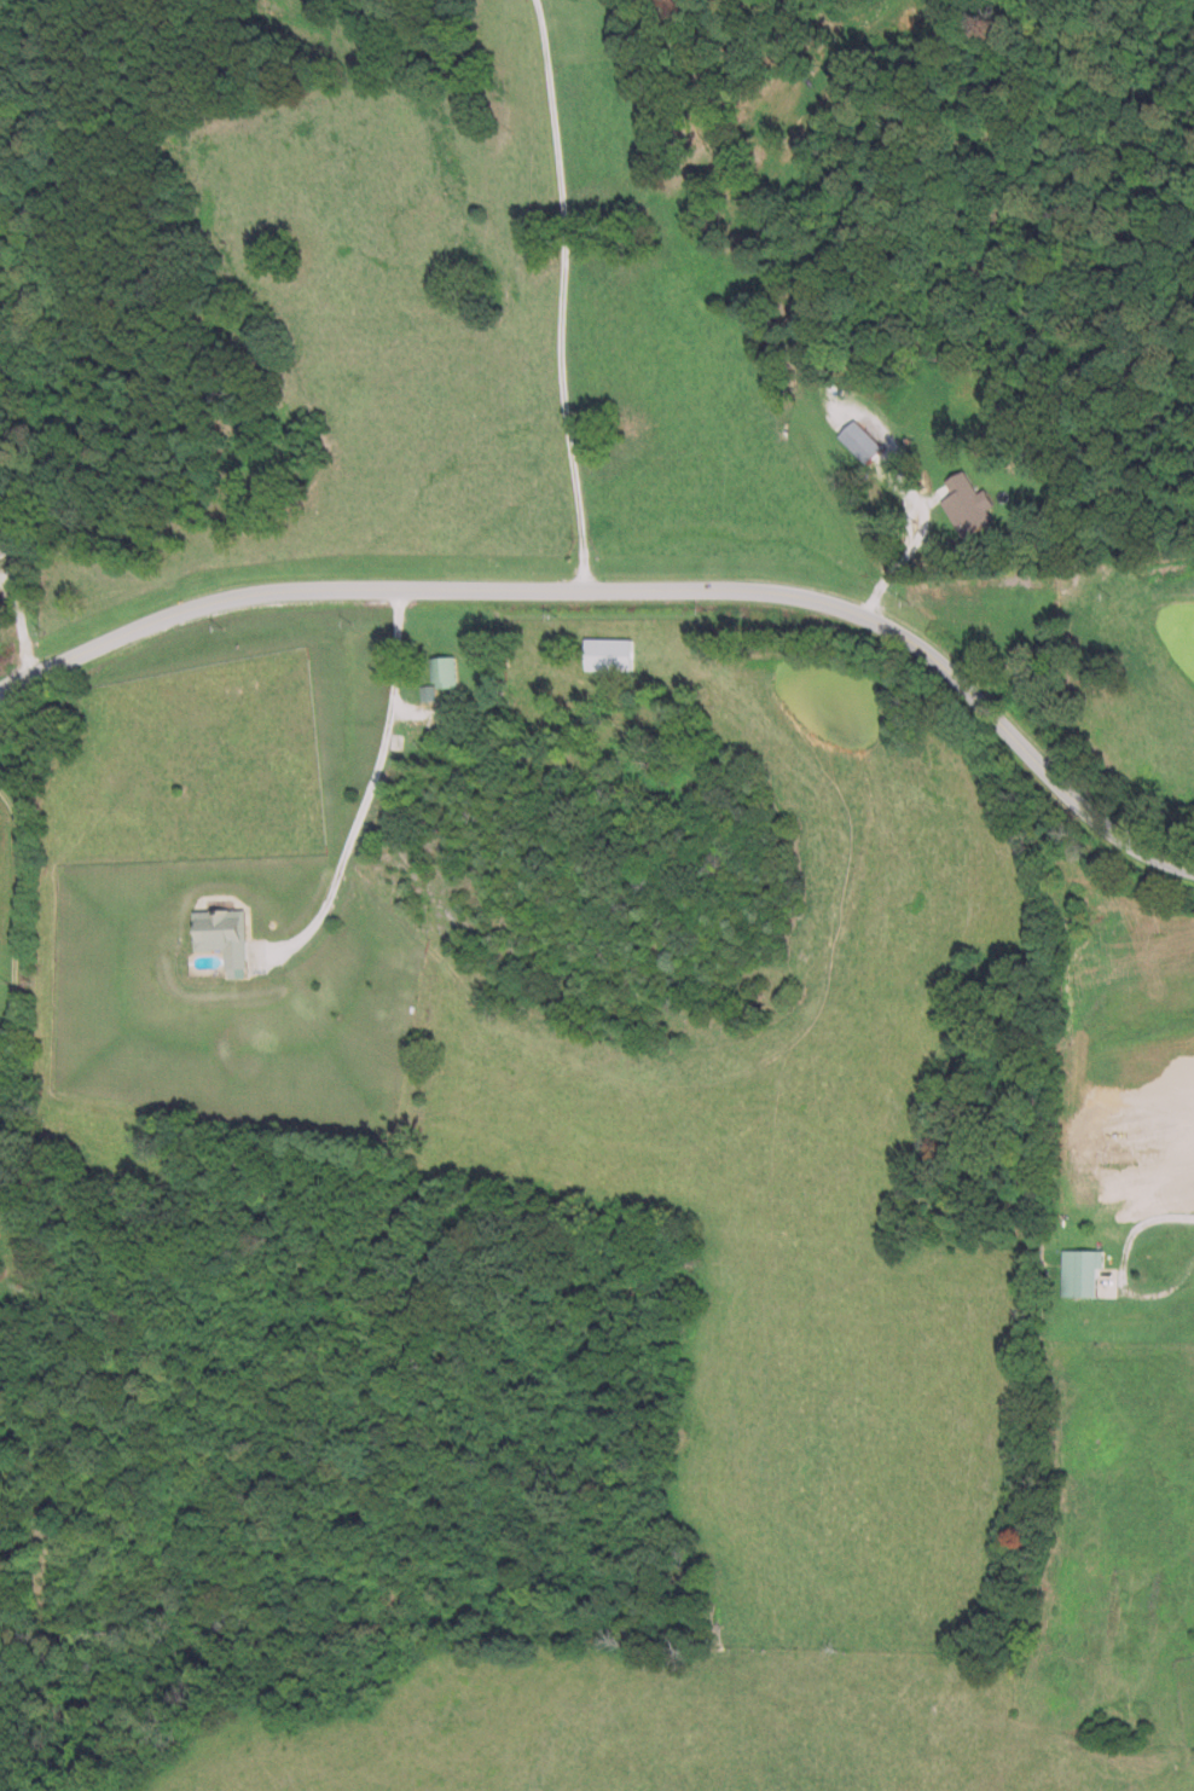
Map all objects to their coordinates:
road: (560, 291)
building: (851, 440)
building: (960, 500)
road: (633, 584)
building: (601, 653)
building: (435, 674)
road: (369, 782)
road: (696, 830)
road: (11, 888)
building: (216, 935)
building: (1073, 1270)

